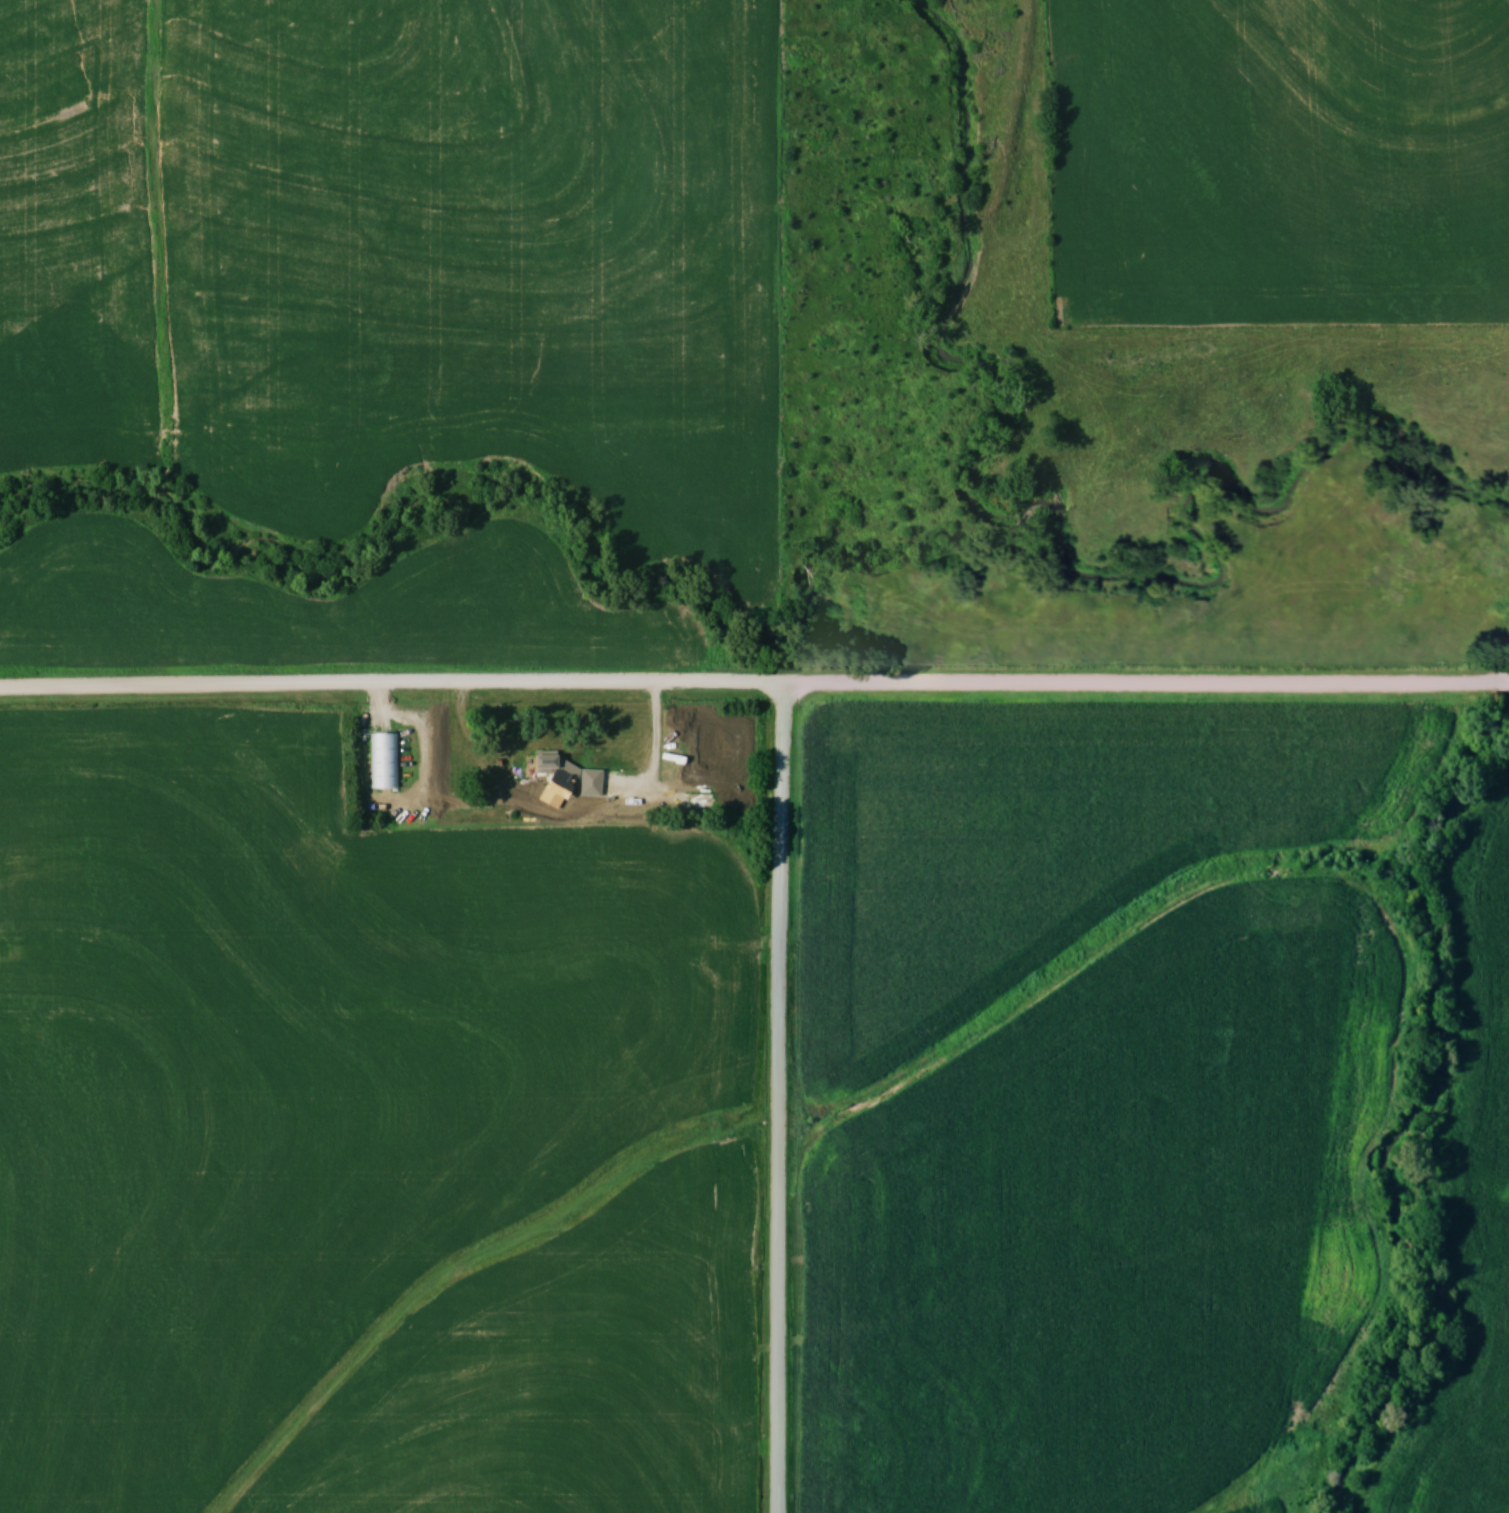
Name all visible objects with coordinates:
road: (754, 685)
building: (383, 761)
road: (576, 797)
road: (782, 1099)

